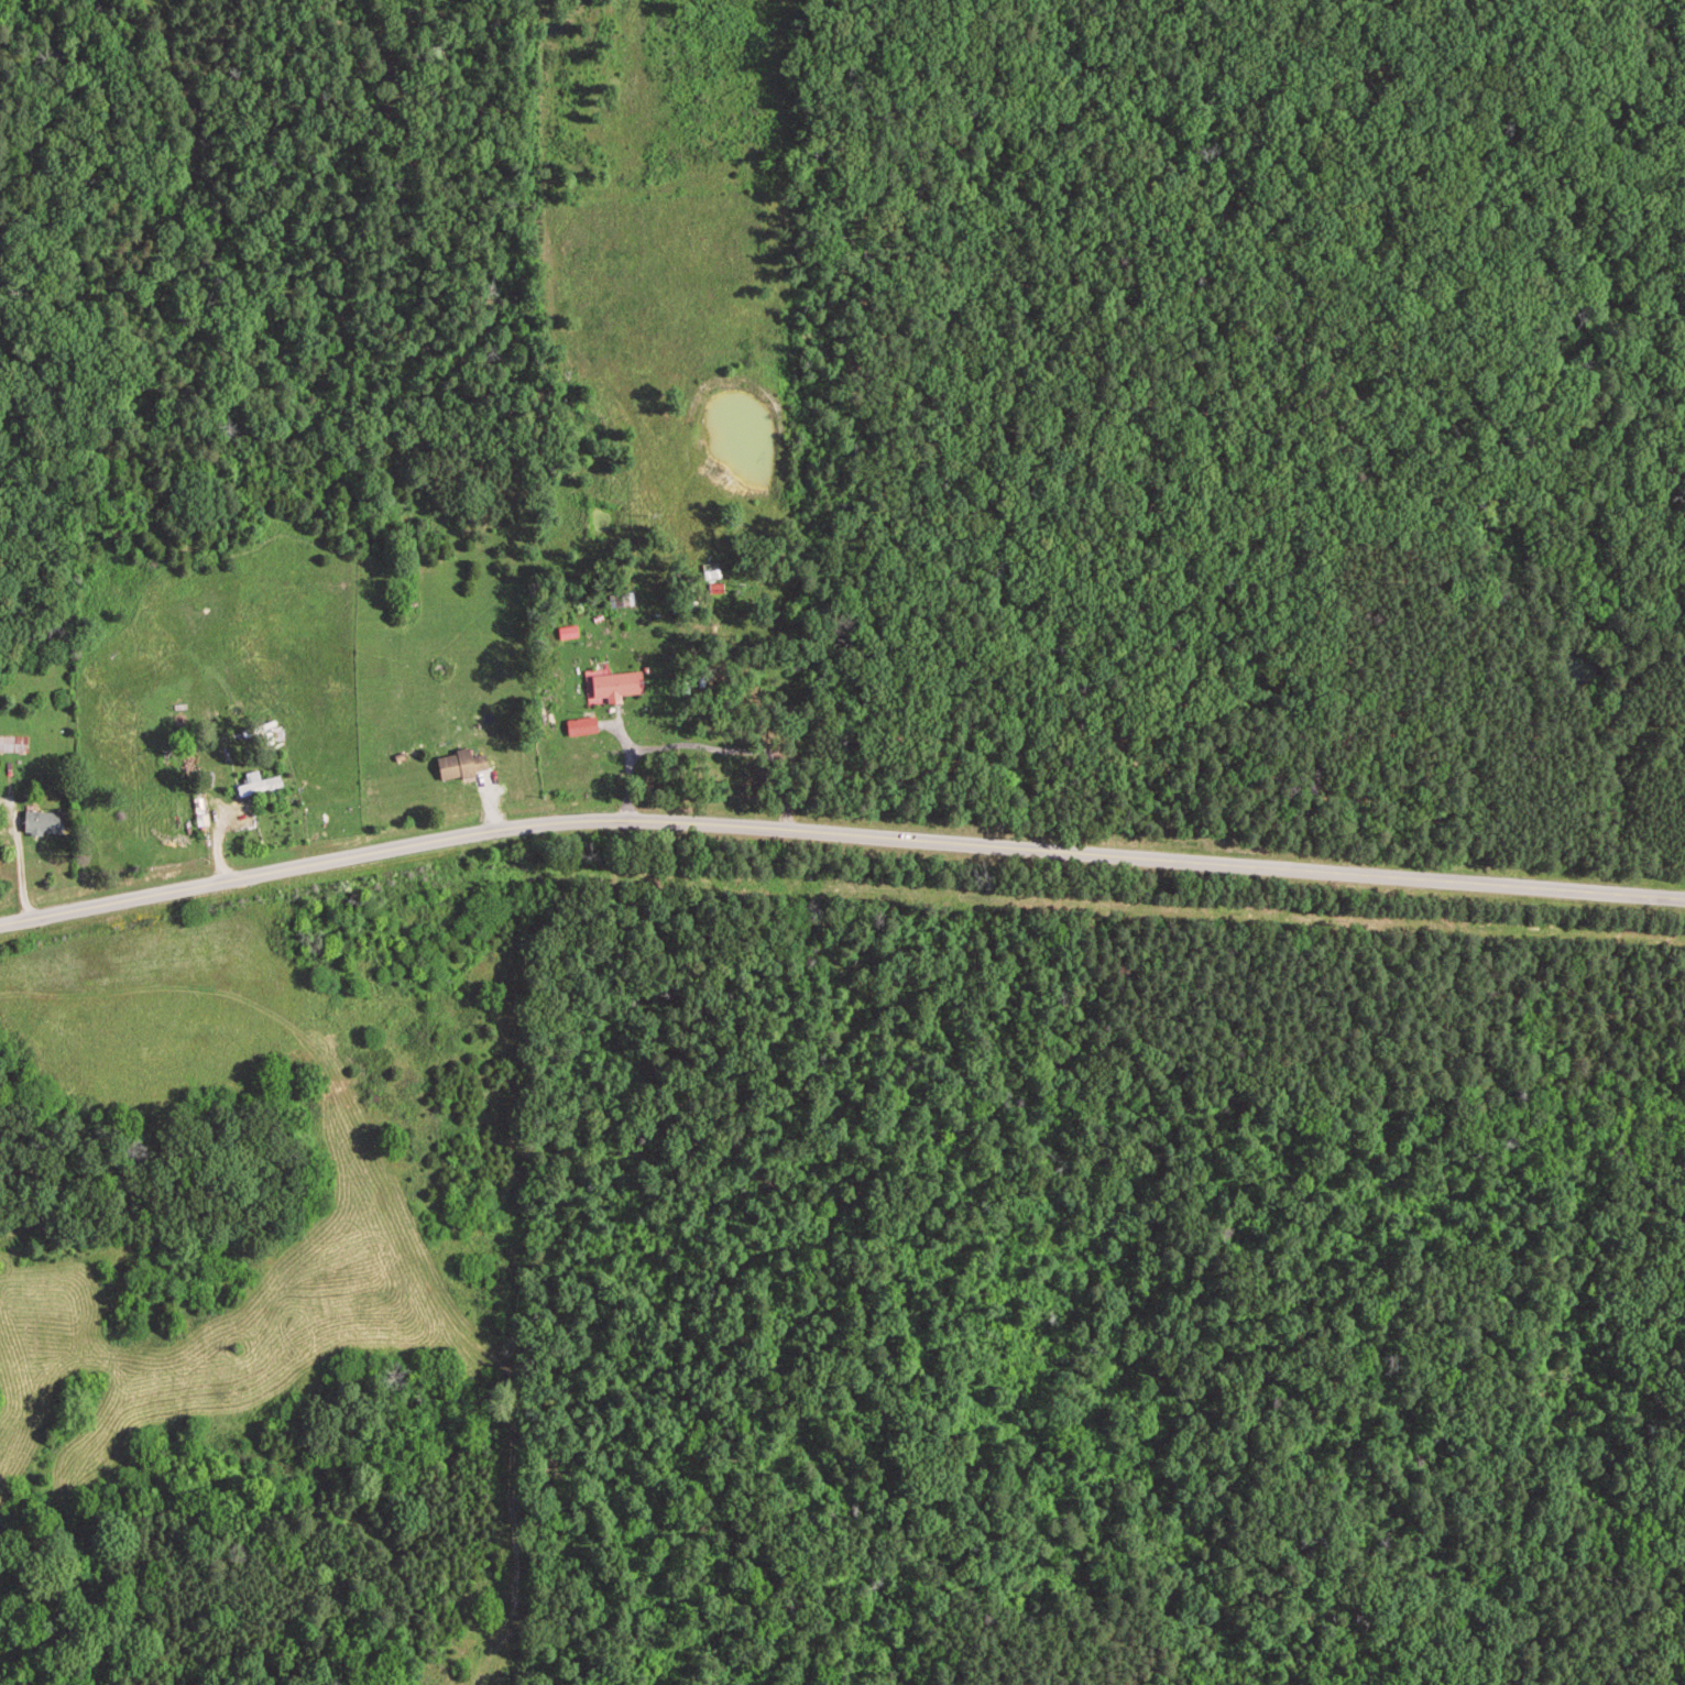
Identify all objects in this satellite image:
building: (621, 687)
road: (616, 765)
road: (243, 813)
building: (46, 823)
road: (459, 840)
road: (1155, 857)
road: (11, 861)
road: (156, 891)
road: (10, 918)
road: (389, 1226)

